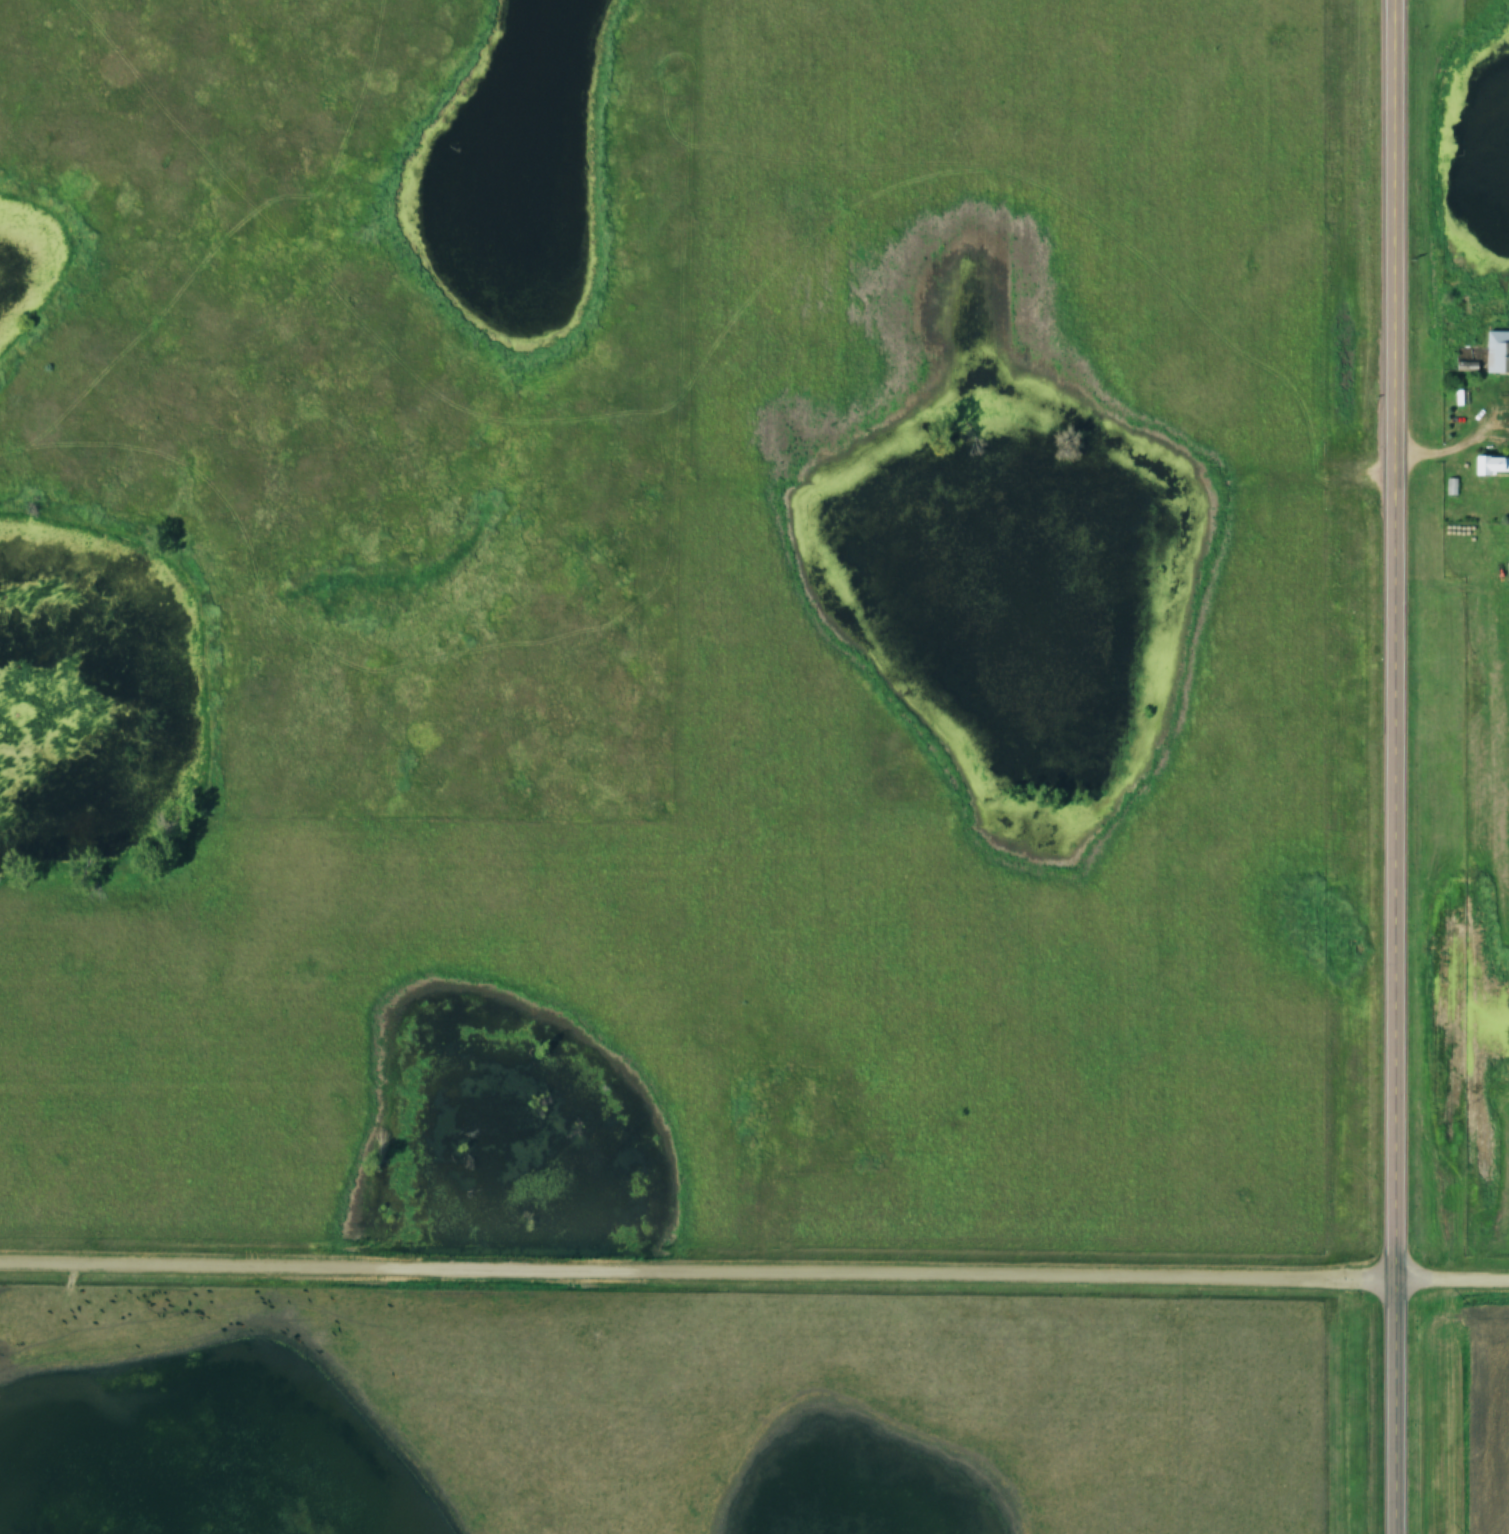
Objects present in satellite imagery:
building: (1497, 351)
road: (1452, 447)
building: (1491, 465)
road: (1392, 767)
road: (754, 1269)

